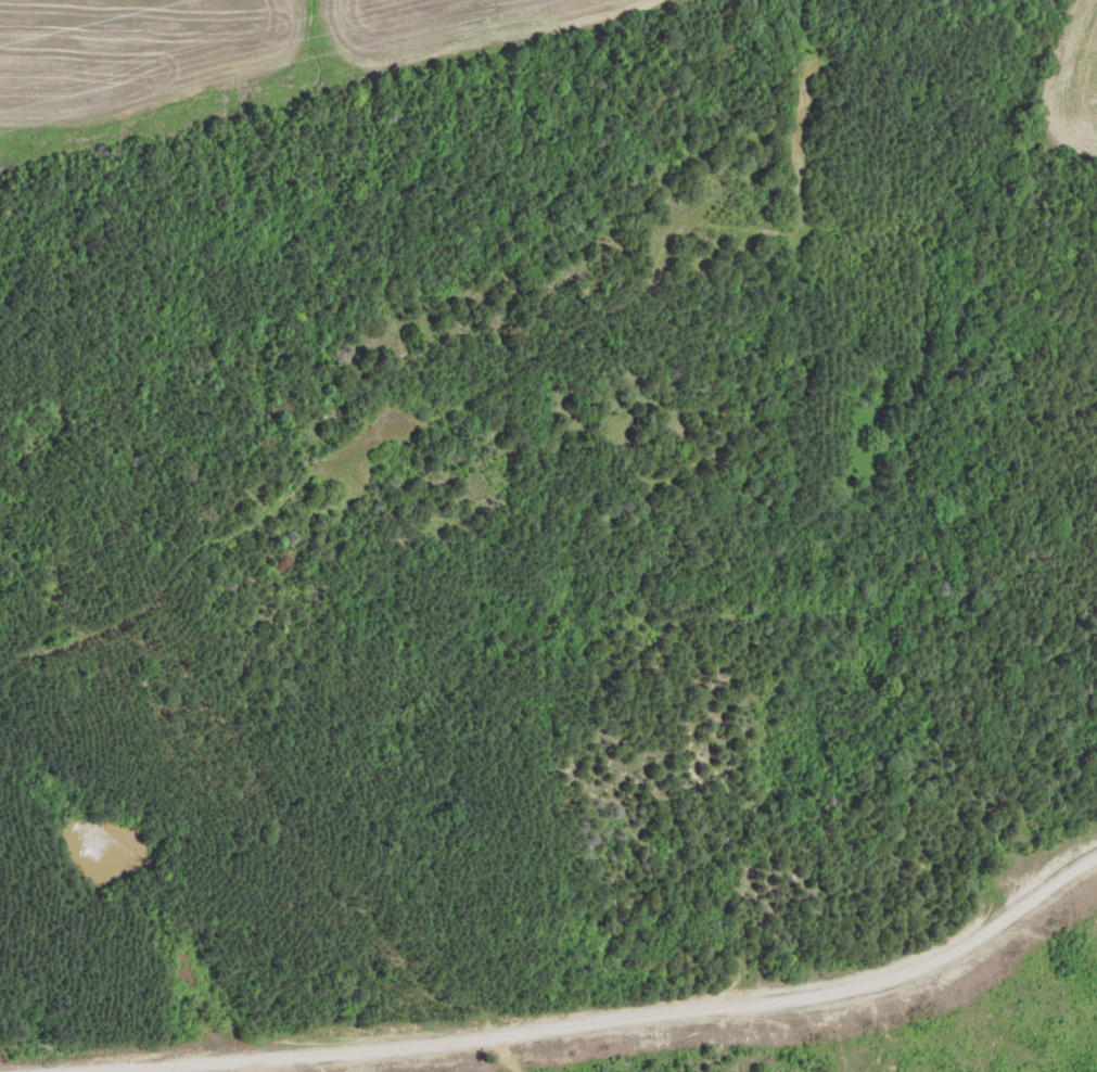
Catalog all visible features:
road: (557, 893)

